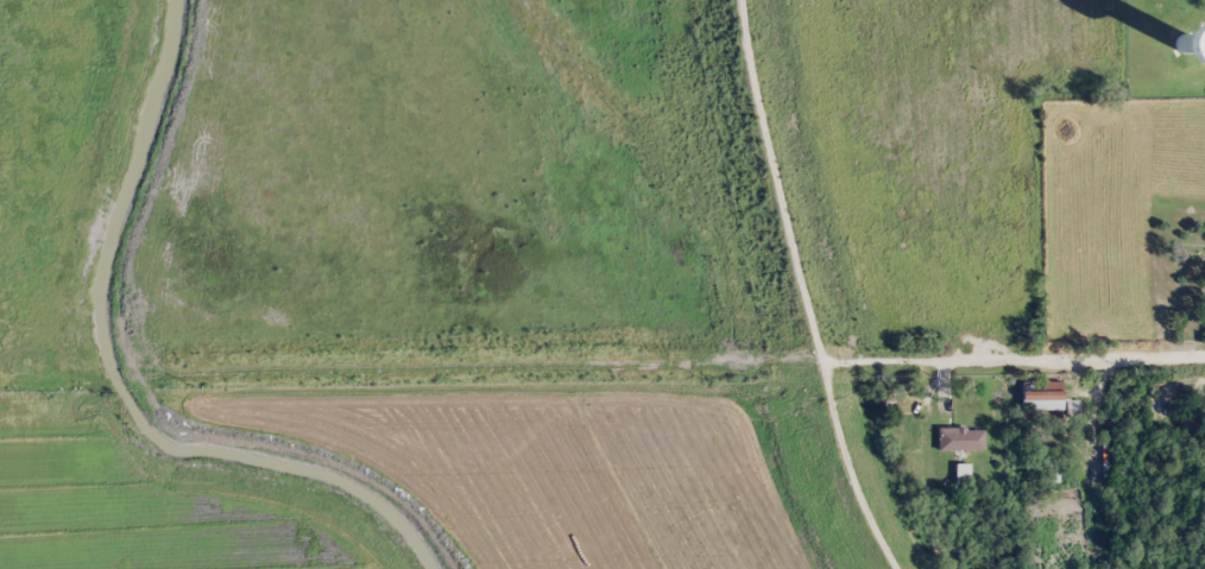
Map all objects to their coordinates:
building: (1163, 44)
park: (1179, 279)
road: (819, 289)
road: (1021, 359)
park: (1178, 423)
building: (960, 438)
building: (1049, 472)

